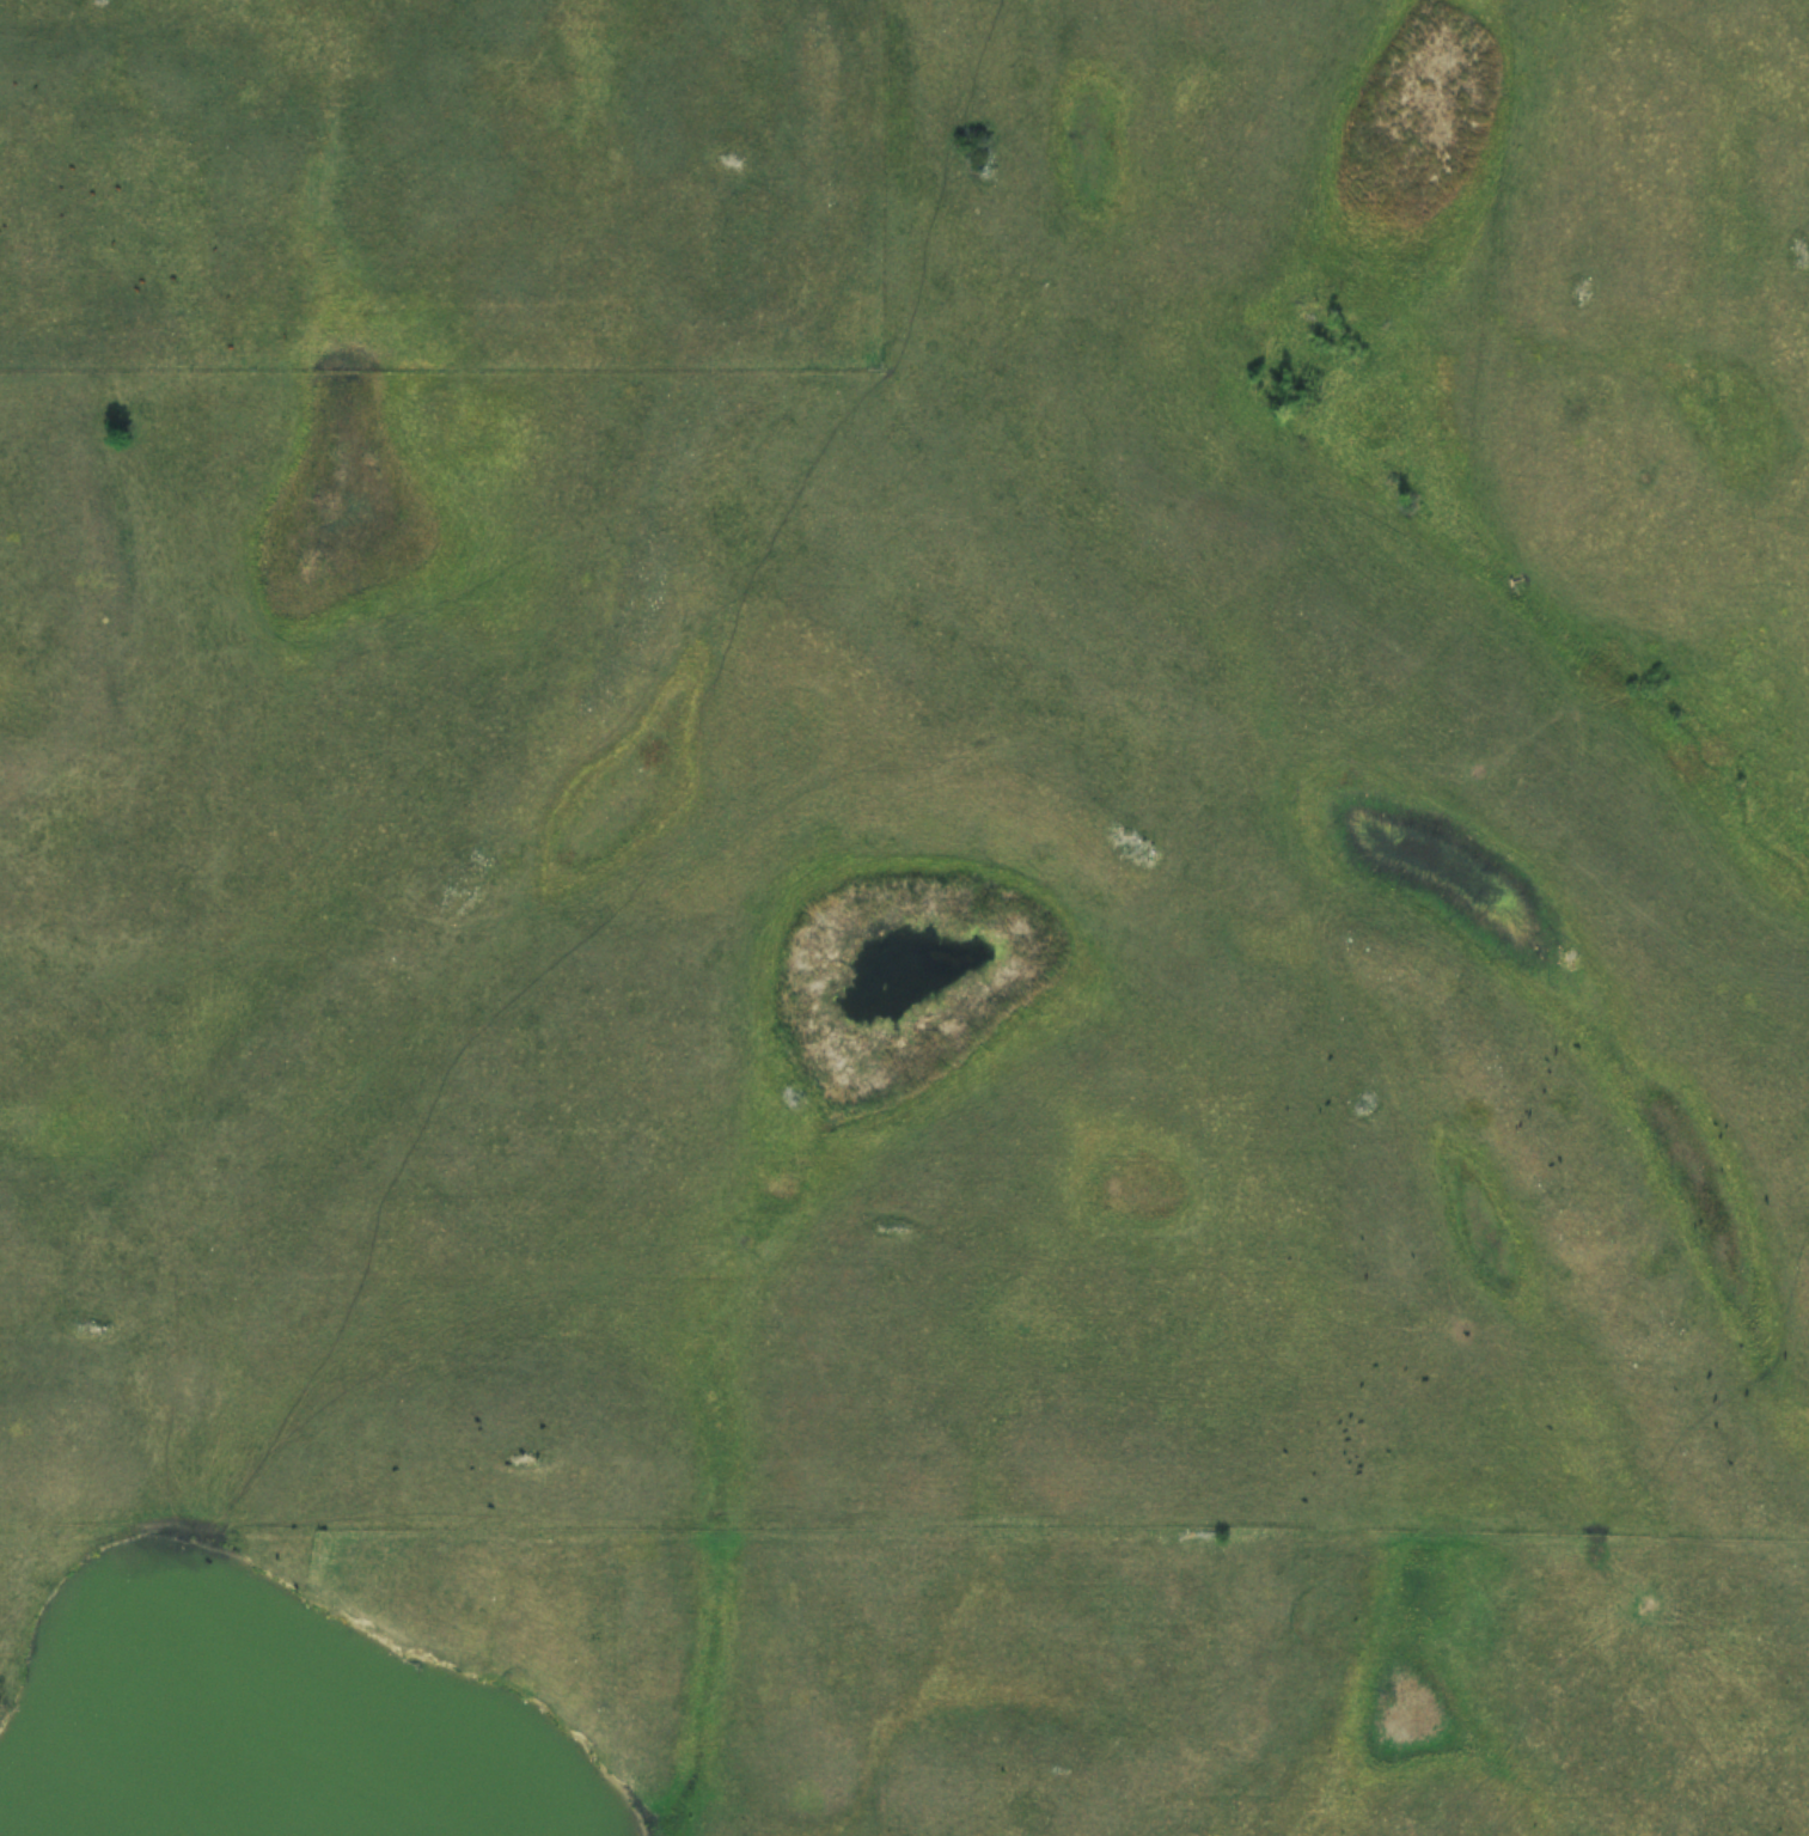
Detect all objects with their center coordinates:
road: (904, 1572)

